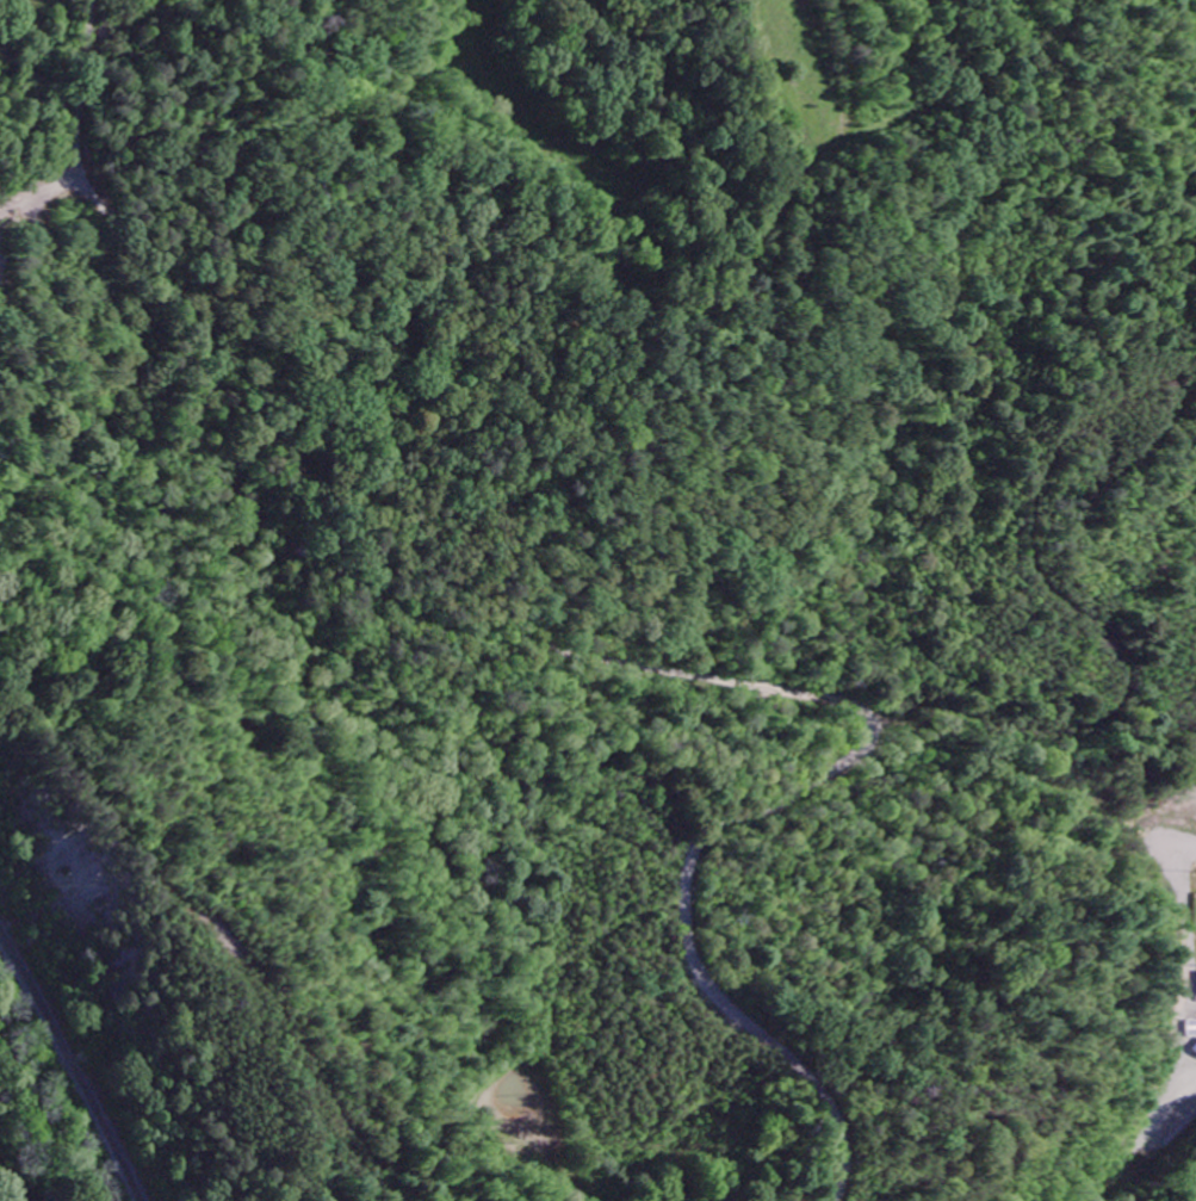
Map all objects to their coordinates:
road: (727, 157)
road: (205, 357)
road: (828, 773)
railway: (72, 1064)

